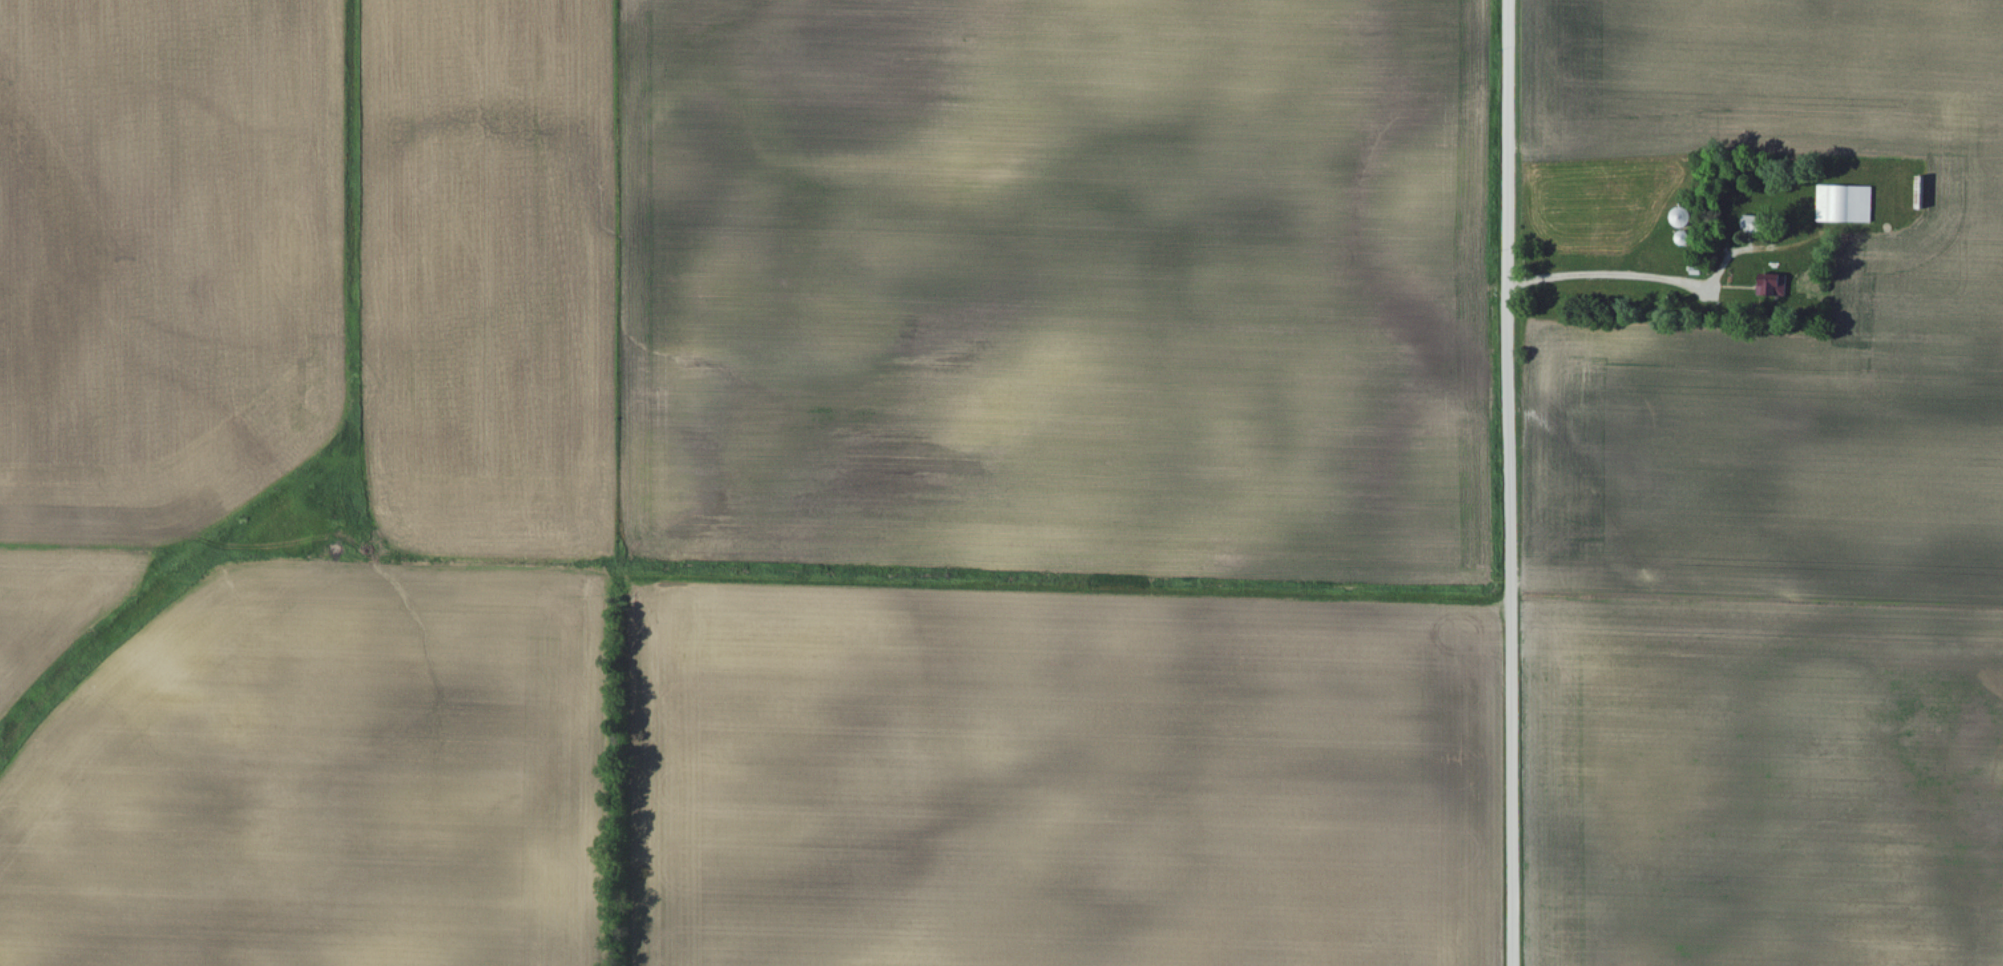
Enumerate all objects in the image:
building: (1846, 204)
road: (1608, 274)
road: (1509, 482)

